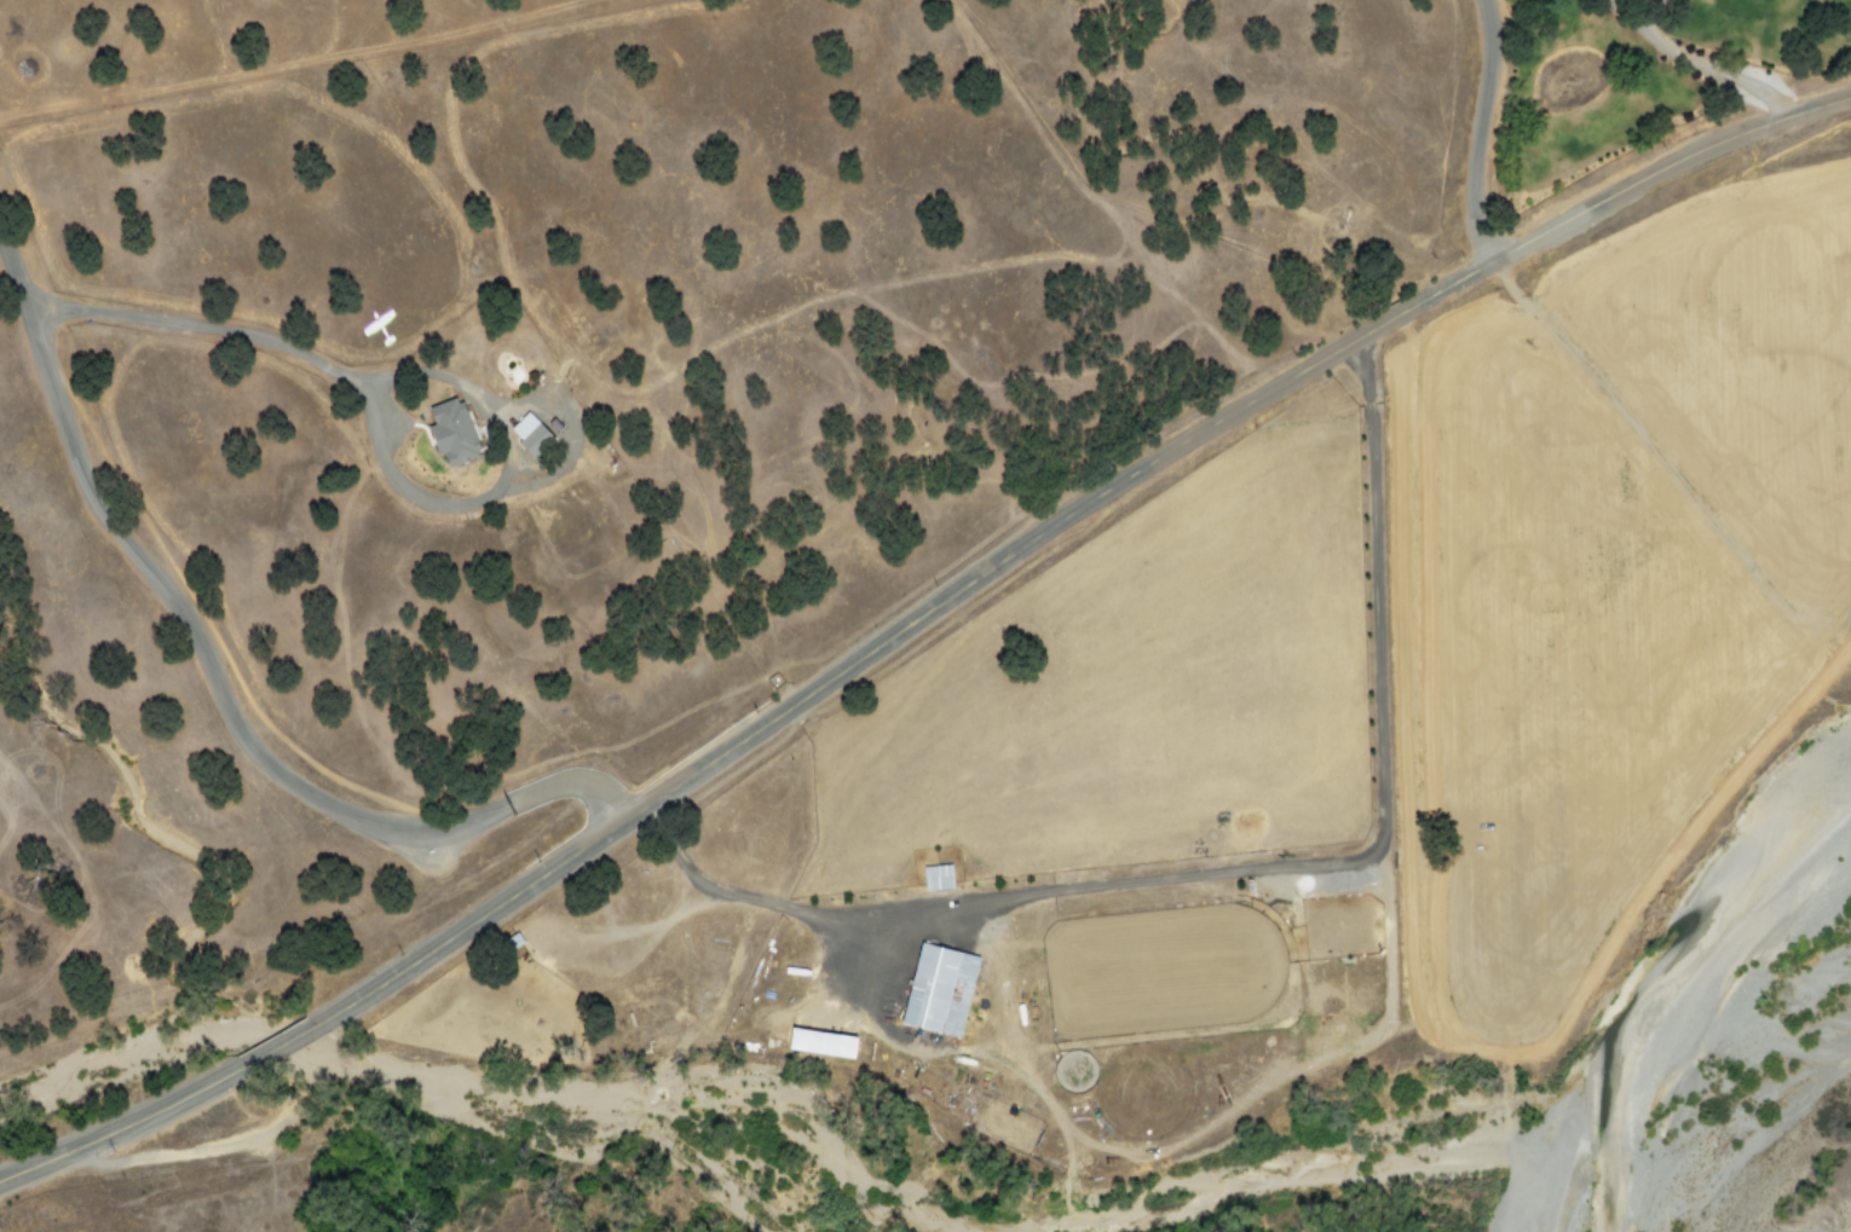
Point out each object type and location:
road: (1633, 6)
road: (1696, 63)
road: (1477, 133)
building: (456, 430)
building: (532, 433)
road: (1643, 436)
road: (1066, 516)
road: (214, 679)
building: (932, 875)
river: (1700, 982)
building: (934, 988)
river: (290, 1041)
road: (286, 1042)
building: (814, 1042)
river: (132, 1053)
river: (555, 1121)
road: (125, 1128)
river: (1330, 1141)
river: (1539, 1166)
river: (905, 1209)

